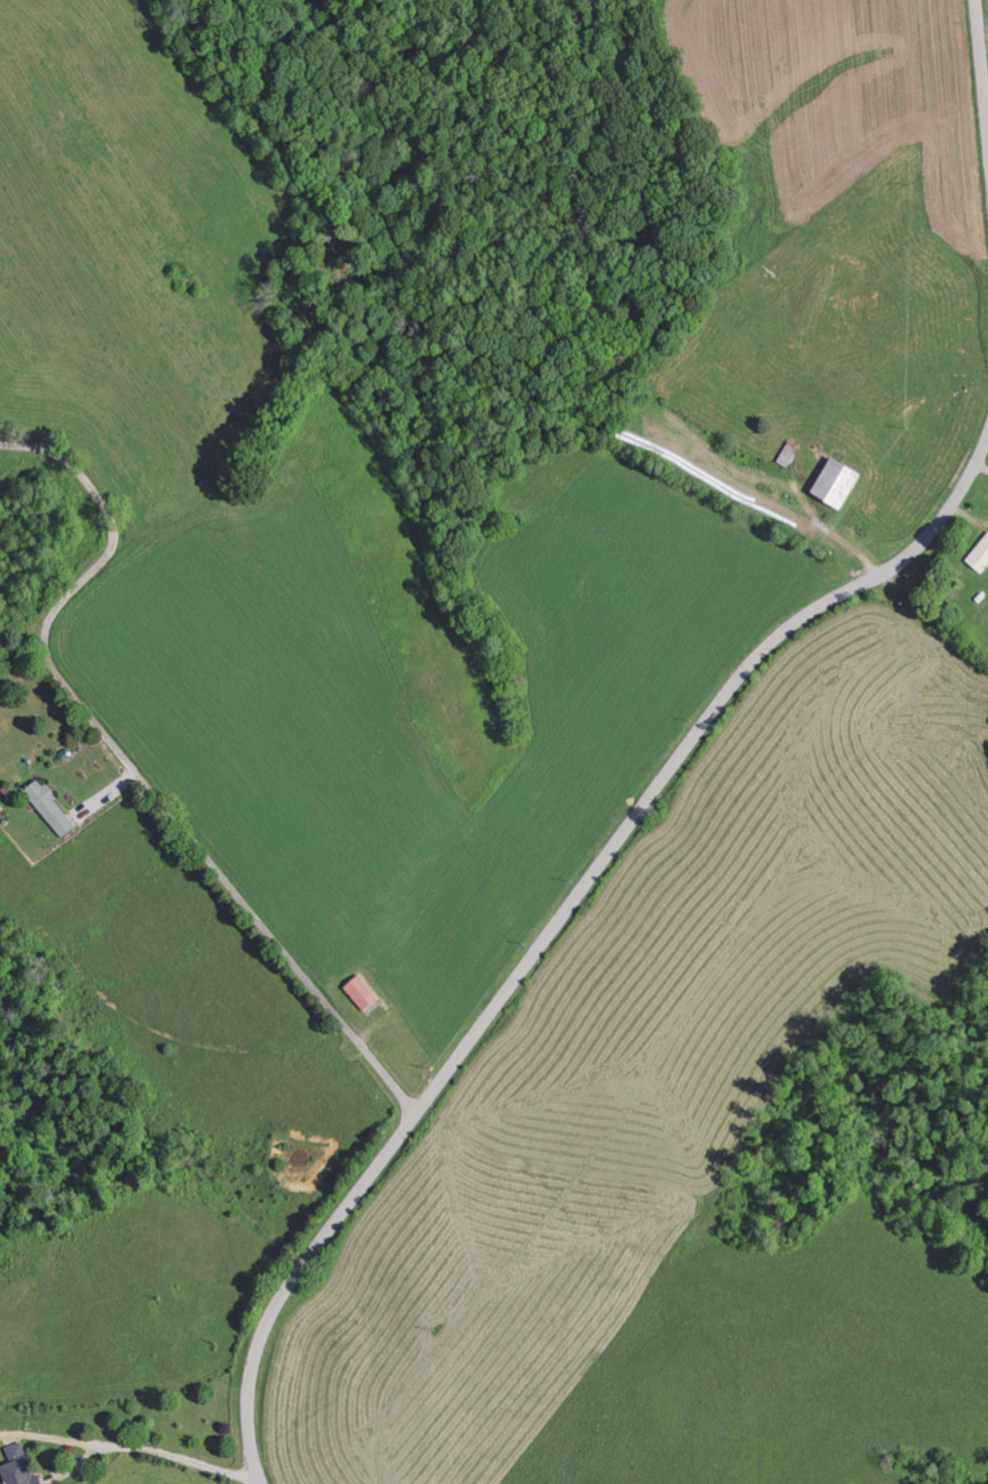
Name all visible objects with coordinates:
road: (984, 52)
building: (979, 555)
road: (133, 771)
building: (48, 808)
road: (558, 922)
building: (359, 993)
building: (17, 1473)

